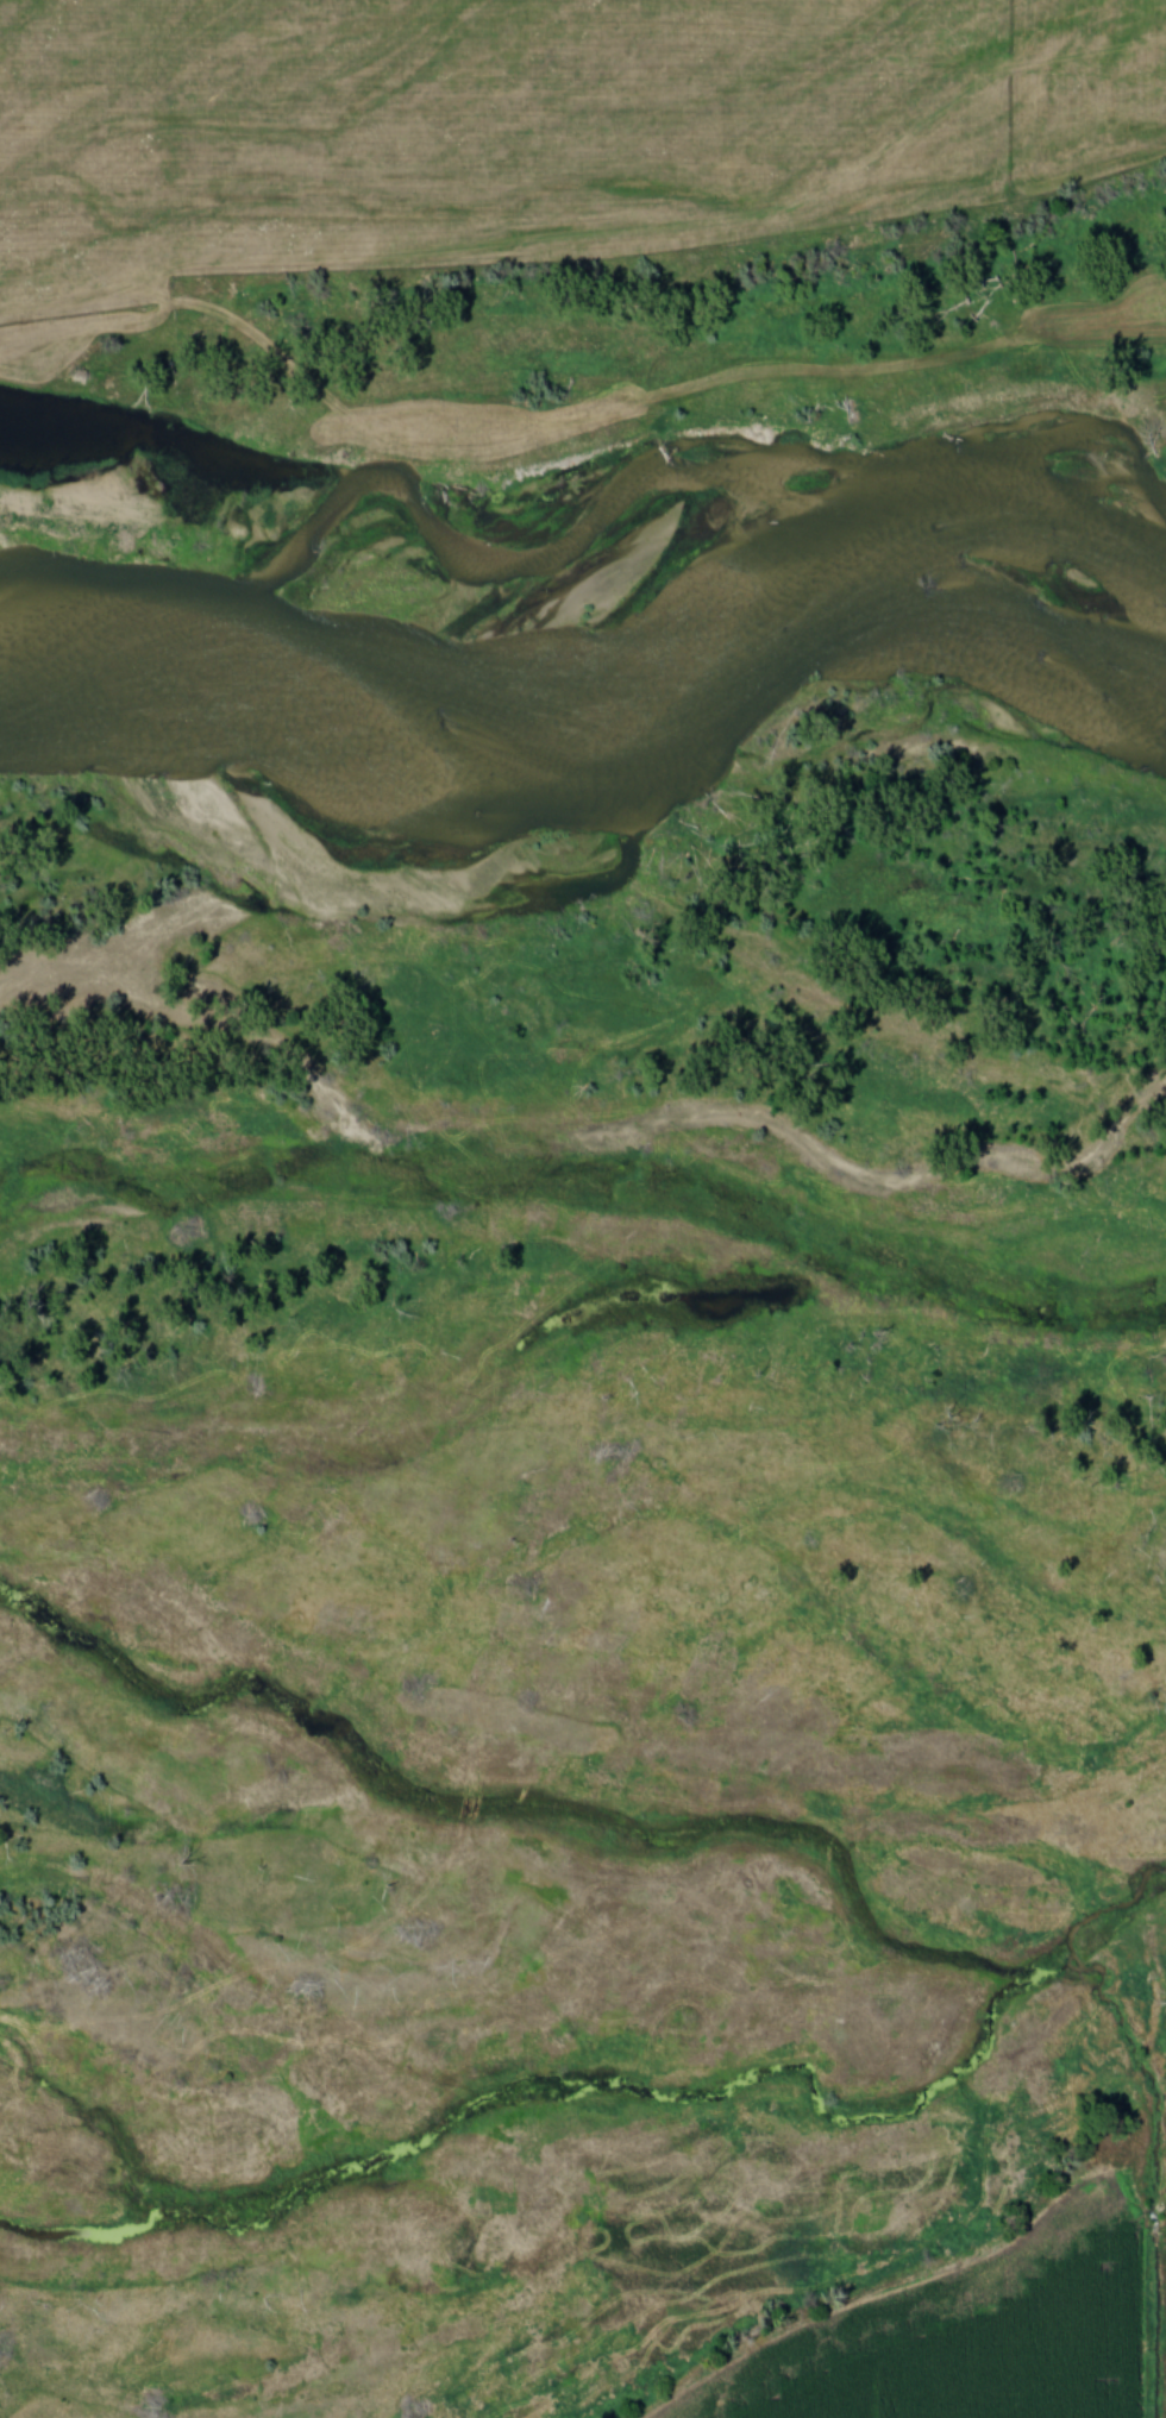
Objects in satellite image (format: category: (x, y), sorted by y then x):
river: (634, 717)

